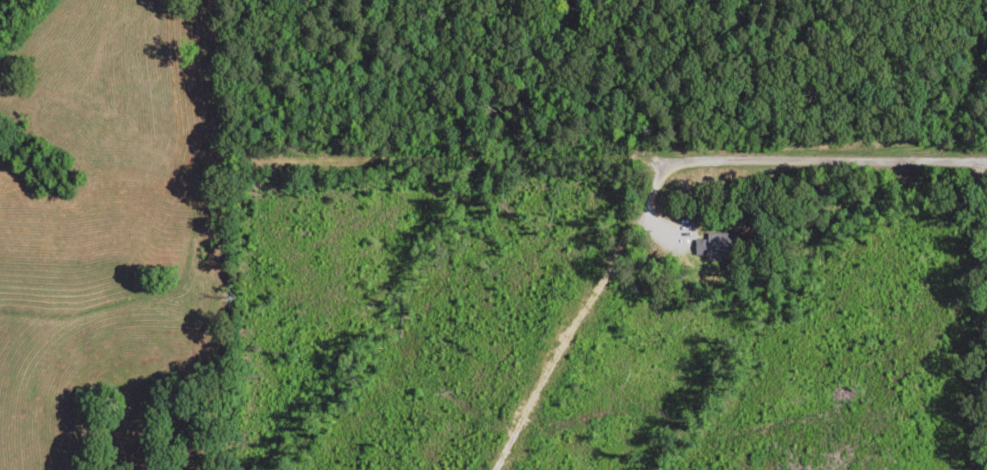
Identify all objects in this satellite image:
building: (714, 243)
road: (744, 287)

